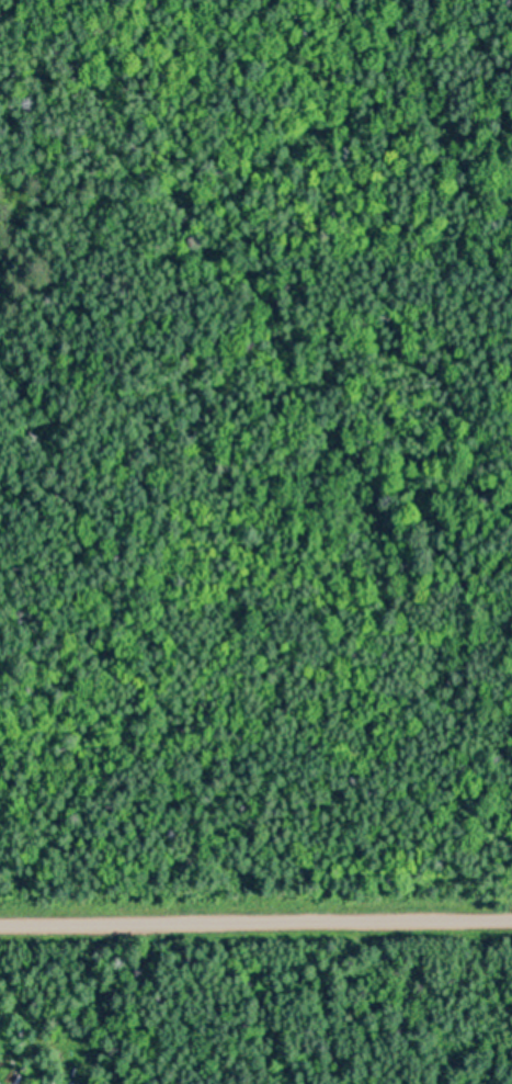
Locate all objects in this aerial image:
road: (255, 923)

